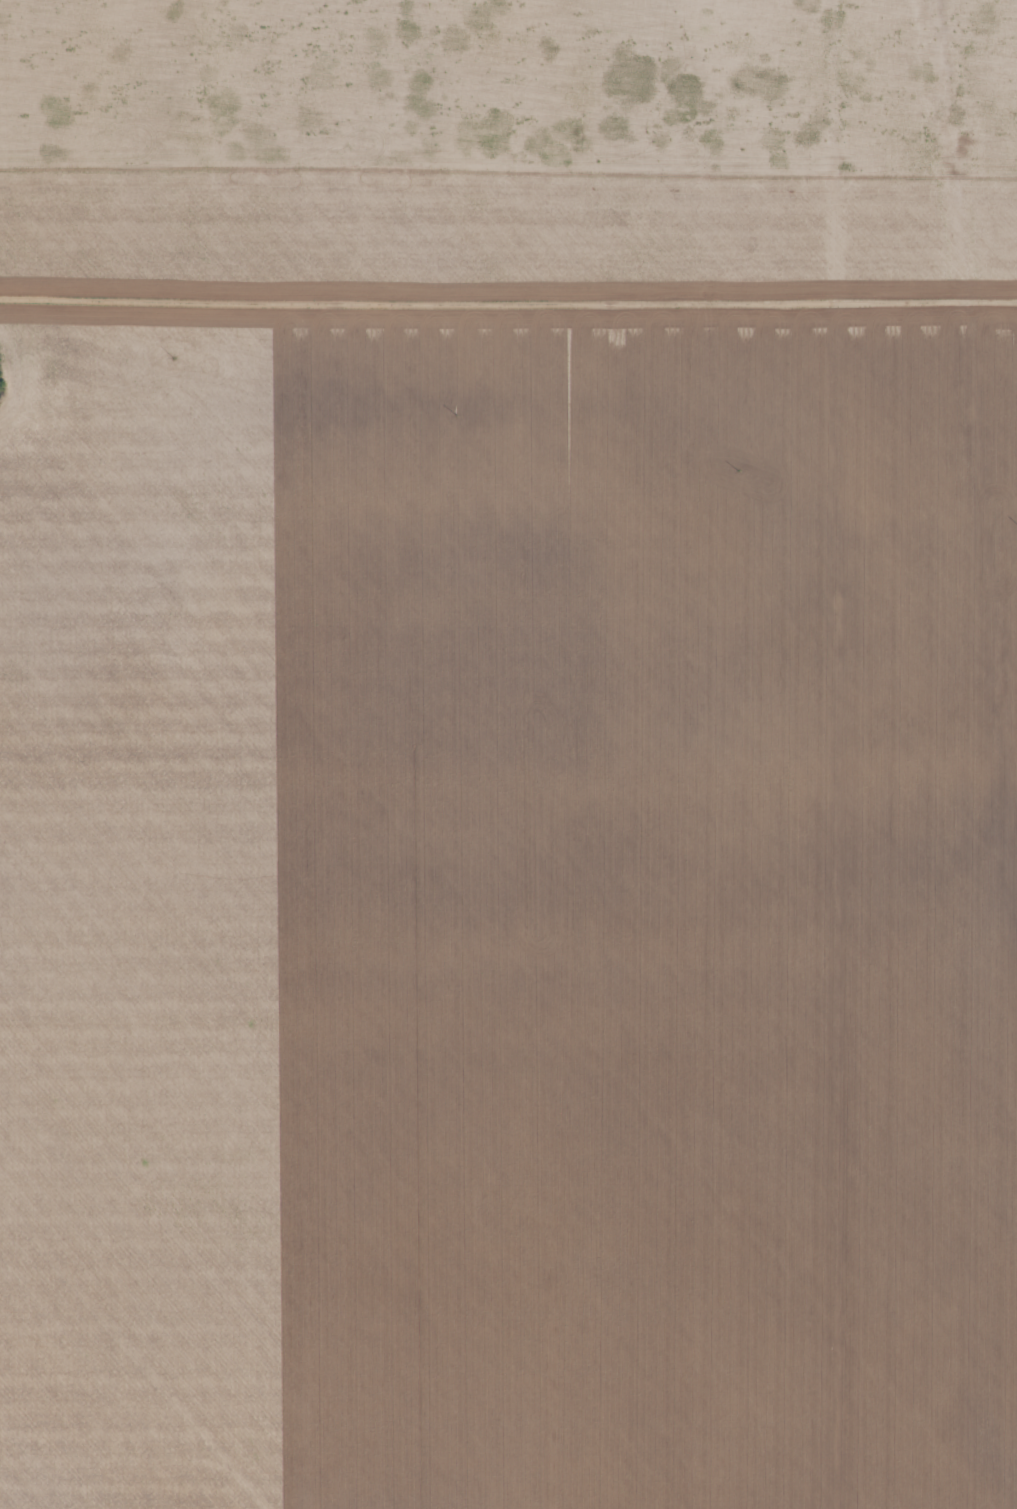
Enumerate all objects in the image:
road: (508, 306)

